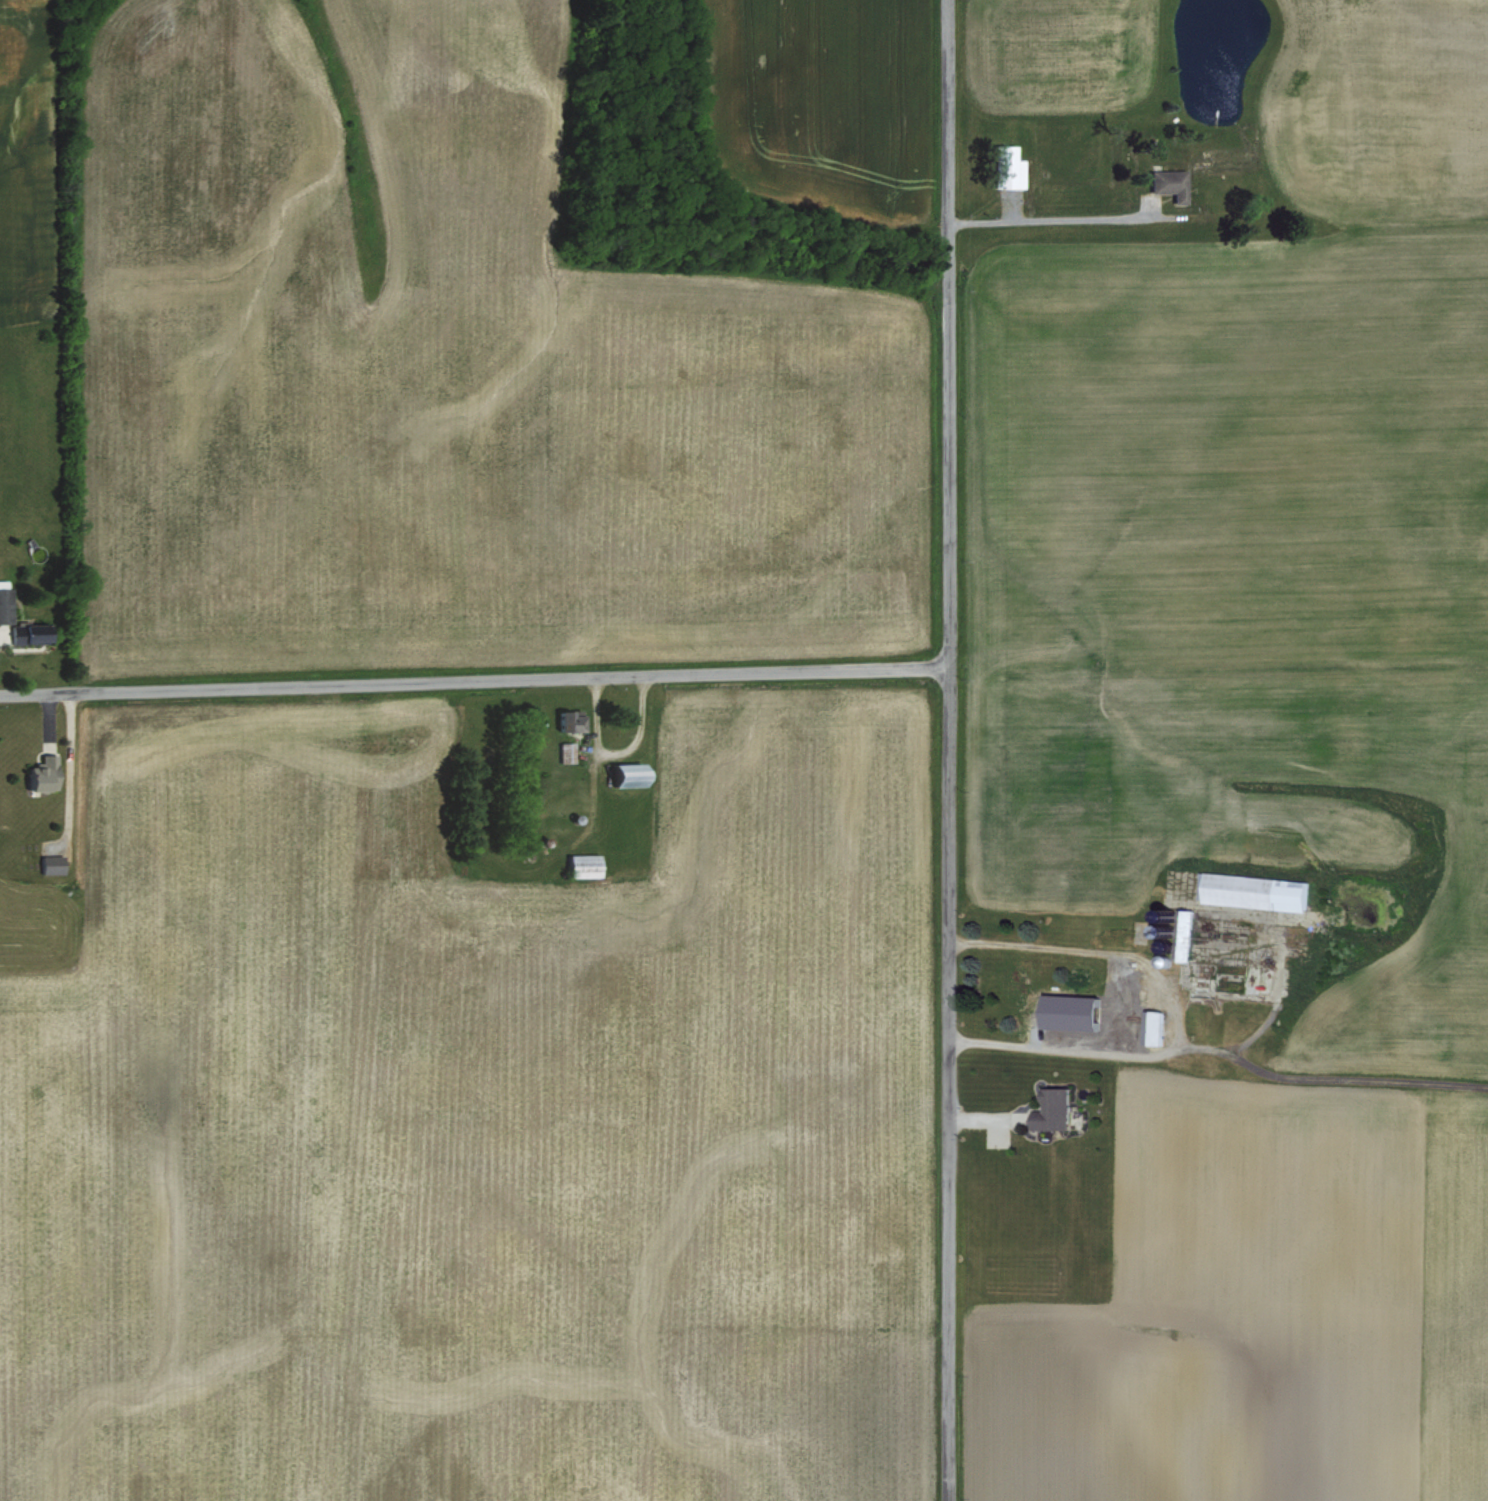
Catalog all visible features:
building: (1172, 183)
road: (1056, 214)
building: (19, 622)
road: (470, 675)
building: (569, 718)
building: (567, 750)
road: (943, 750)
road: (66, 764)
building: (45, 771)
building: (634, 772)
building: (53, 862)
building: (1256, 889)
building: (1264, 977)
building: (1075, 1010)
road: (1173, 1010)
building: (1155, 1025)
building: (1053, 1108)

